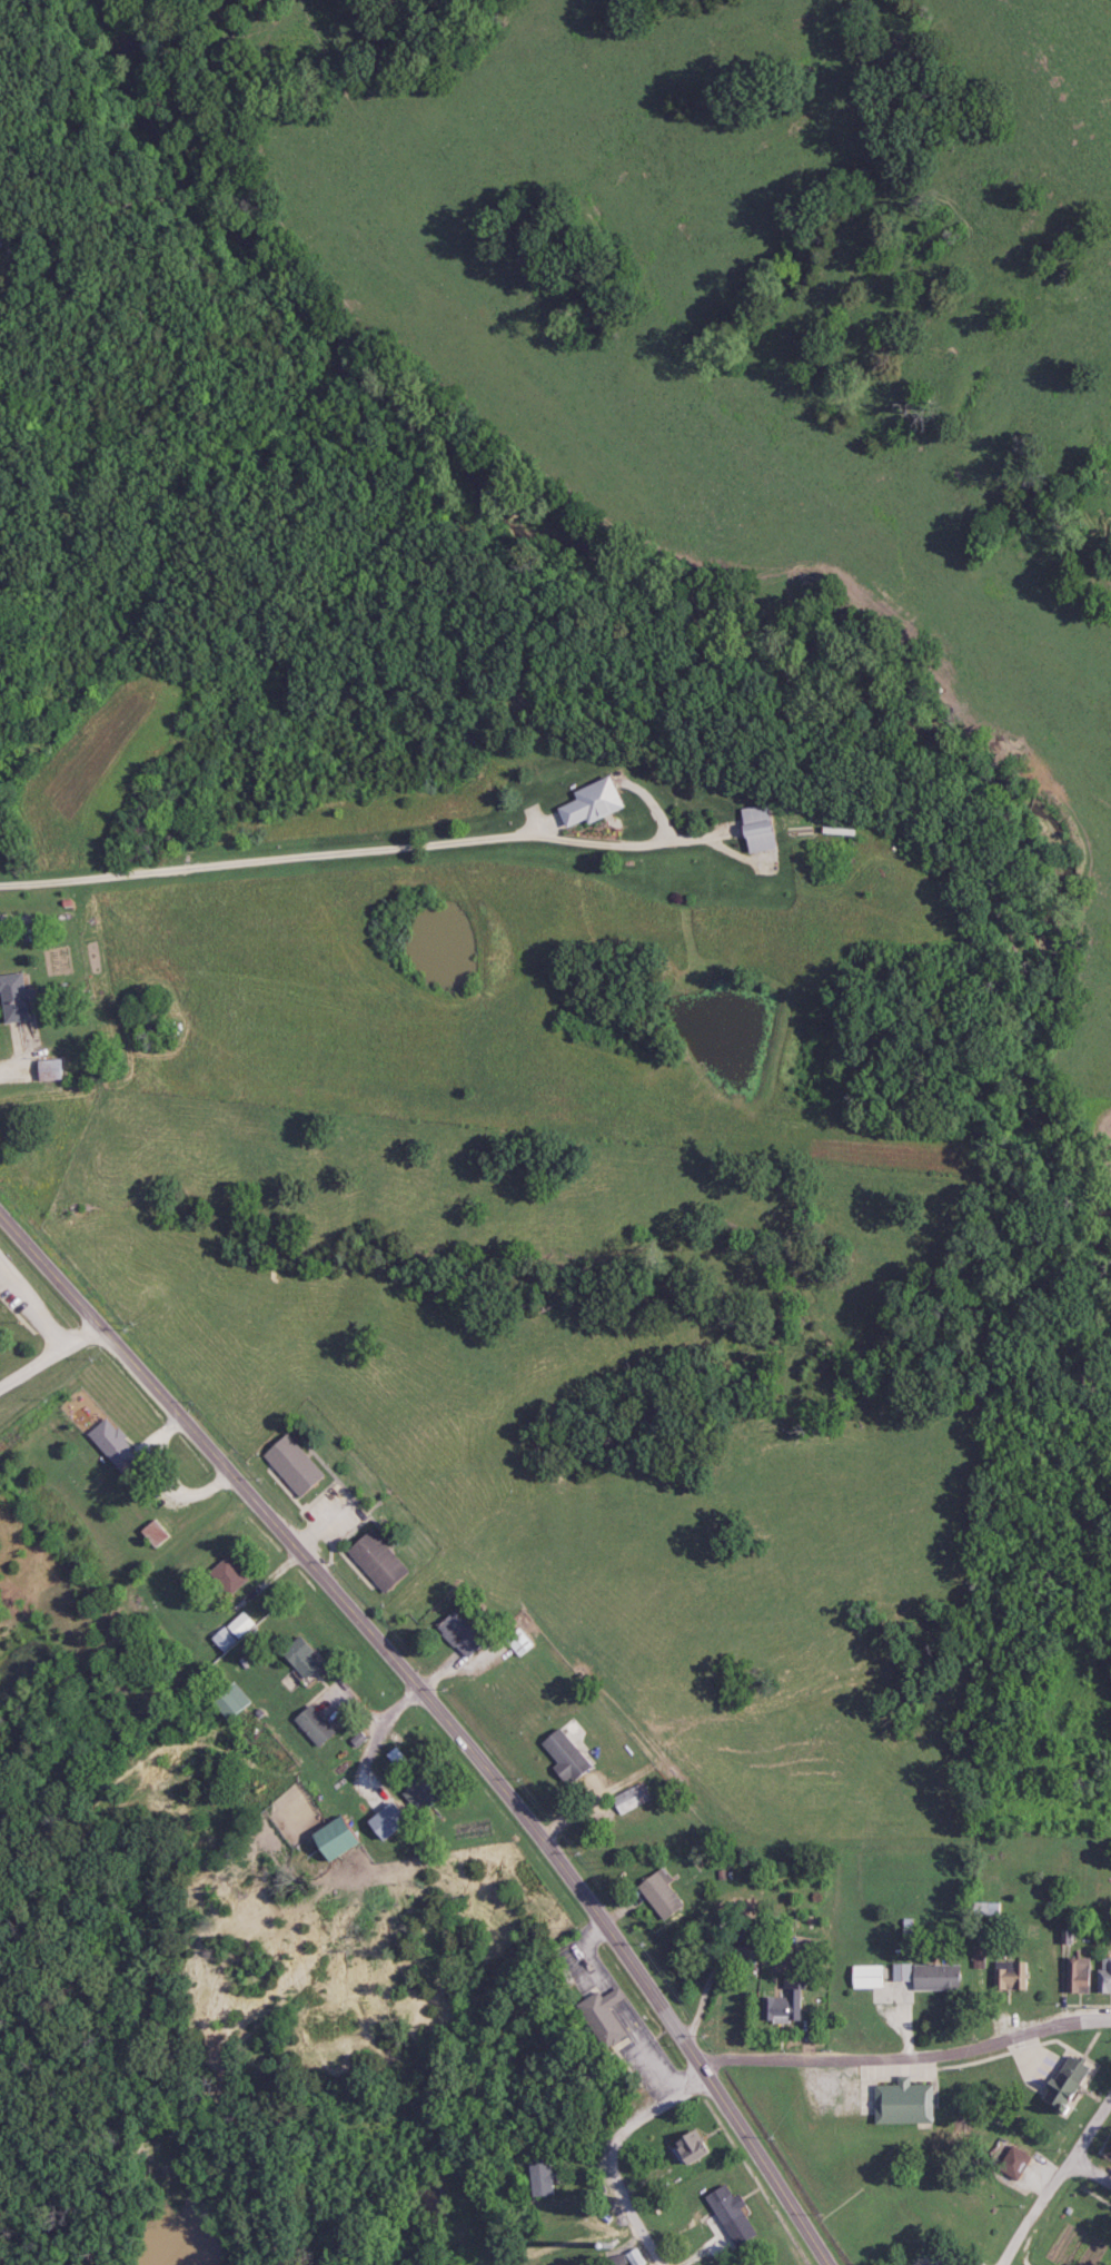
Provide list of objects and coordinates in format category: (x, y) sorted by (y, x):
building: (2, 230)
building: (585, 804)
building: (752, 829)
road: (351, 843)
building: (11, 997)
building: (44, 1069)
road: (53, 1353)
building: (108, 1444)
building: (289, 1464)
building: (150, 1534)
building: (373, 1561)
building: (222, 1575)
road: (361, 1618)
building: (229, 1631)
building: (454, 1631)
building: (515, 1642)
building: (296, 1658)
building: (225, 1700)
building: (309, 1724)
building: (563, 1755)
building: (327, 1839)
building: (657, 1893)
building: (925, 1975)
building: (1074, 1975)
building: (1008, 1976)
building: (1102, 1976)
building: (863, 1977)
building: (780, 2007)
building: (598, 2016)
road: (905, 2055)
building: (1061, 2085)
building: (899, 2103)
building: (685, 2147)
road: (612, 2152)
road: (772, 2157)
road: (1055, 2175)
building: (538, 2177)
road: (1087, 2177)
road: (584, 2183)
building: (724, 2214)
building: (632, 2257)

